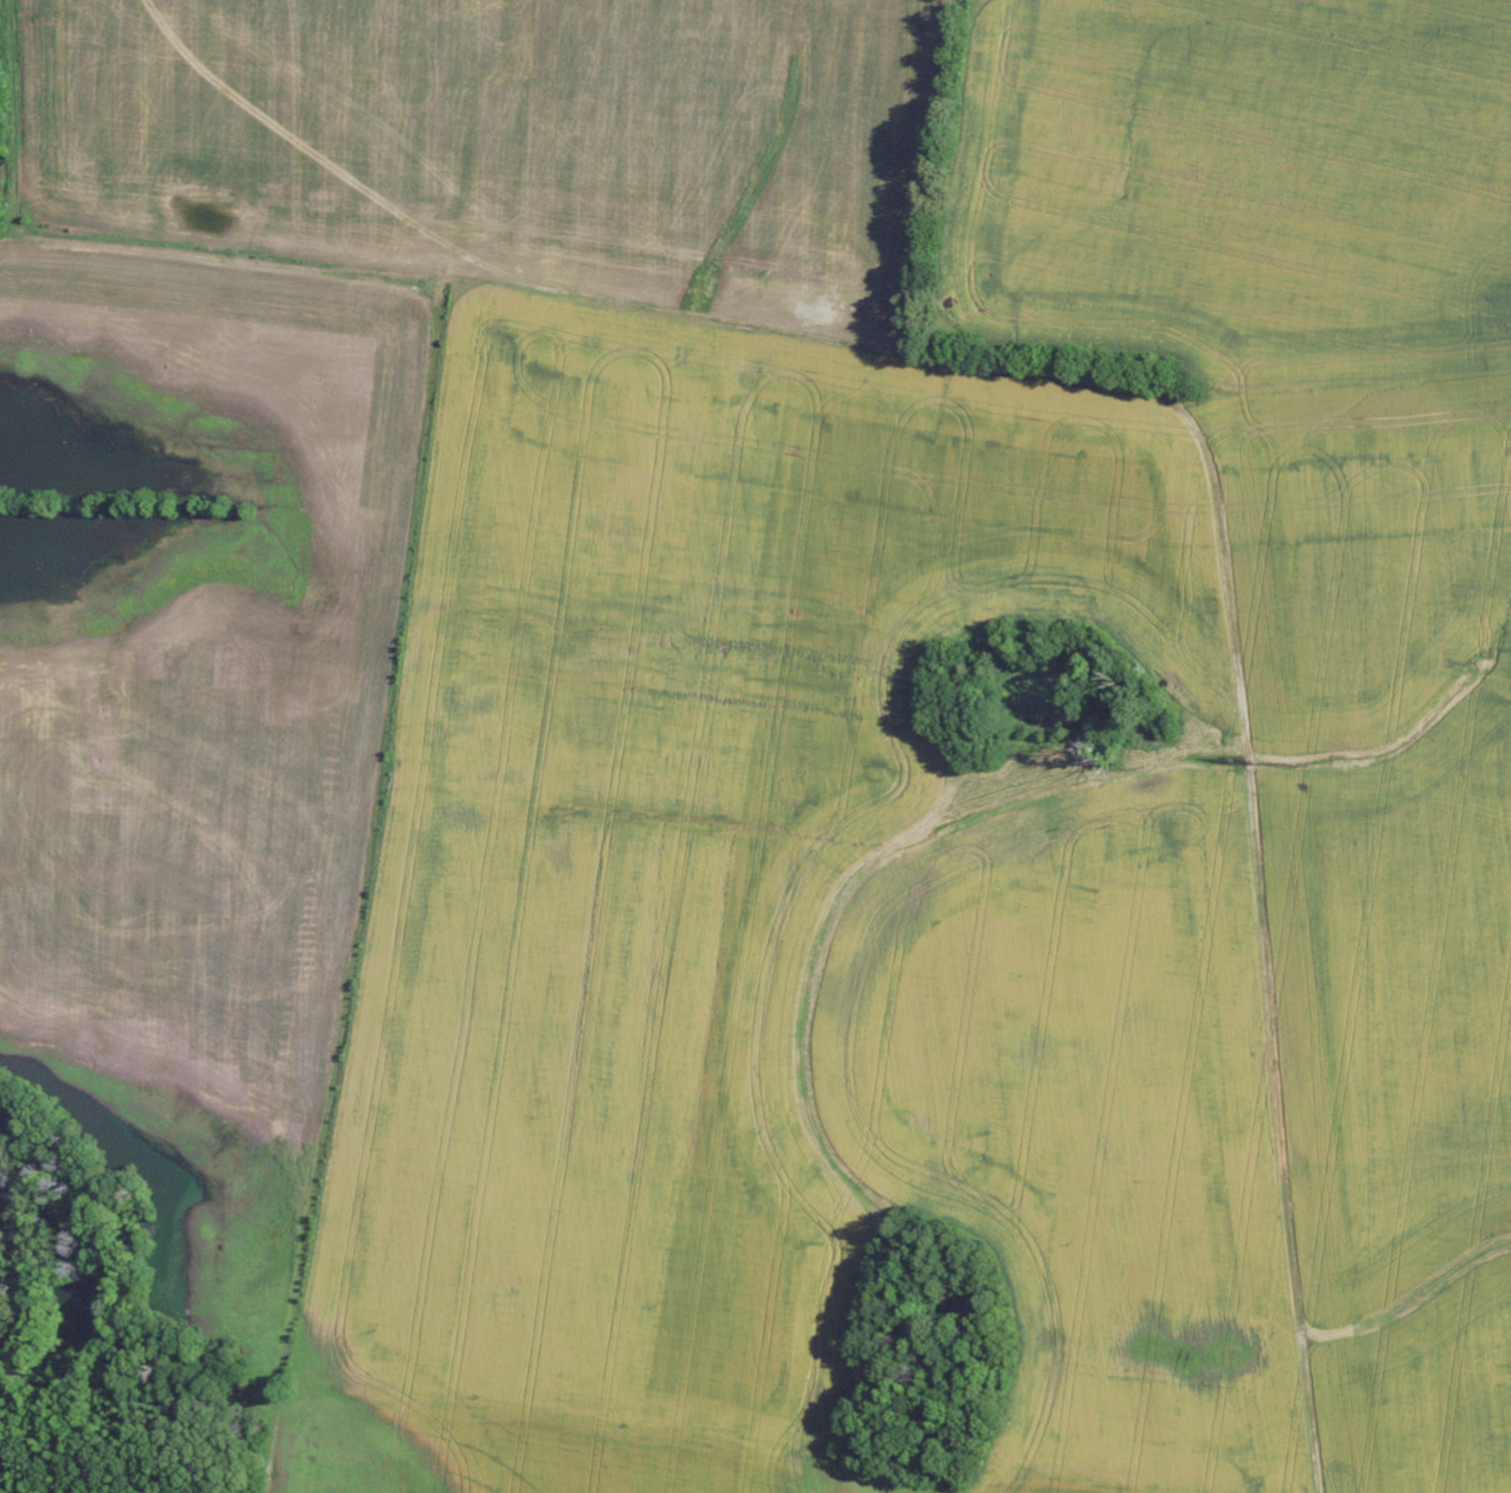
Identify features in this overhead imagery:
road: (405, 684)

